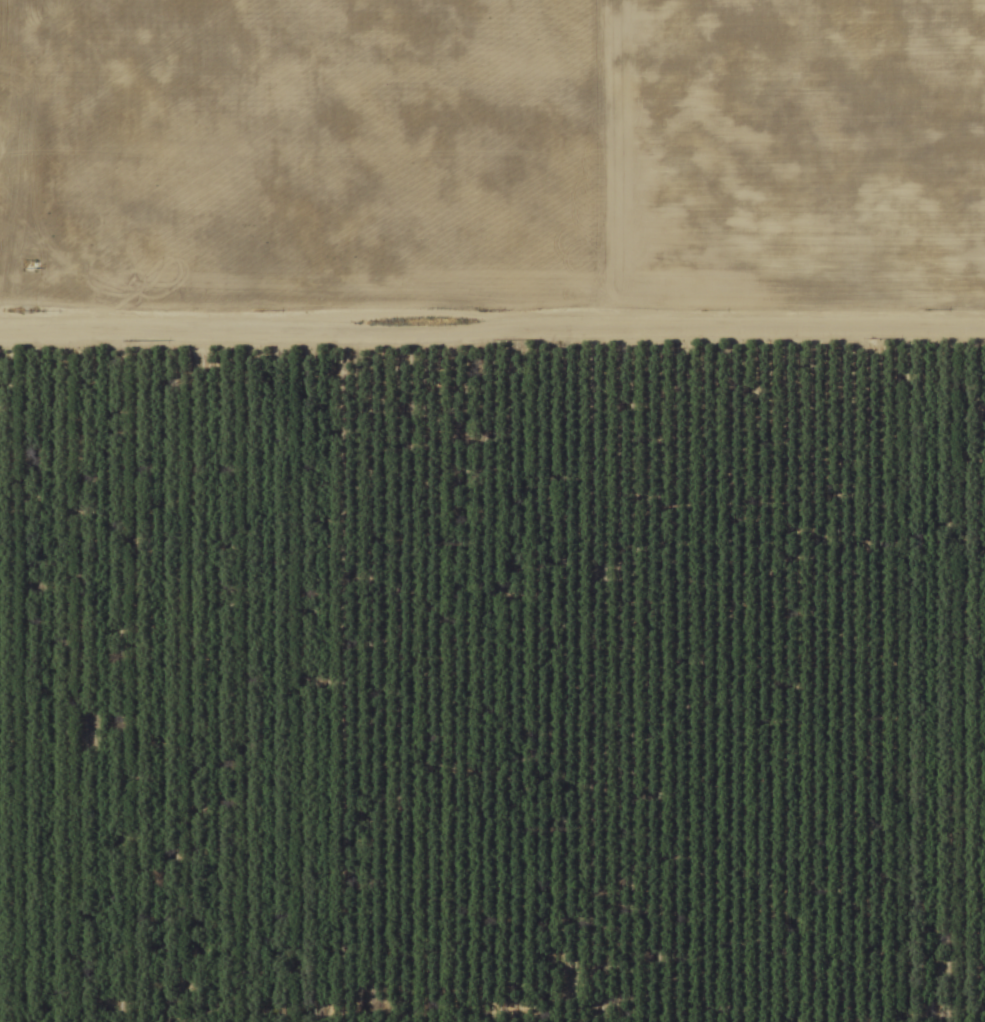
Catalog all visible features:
road: (492, 323)

